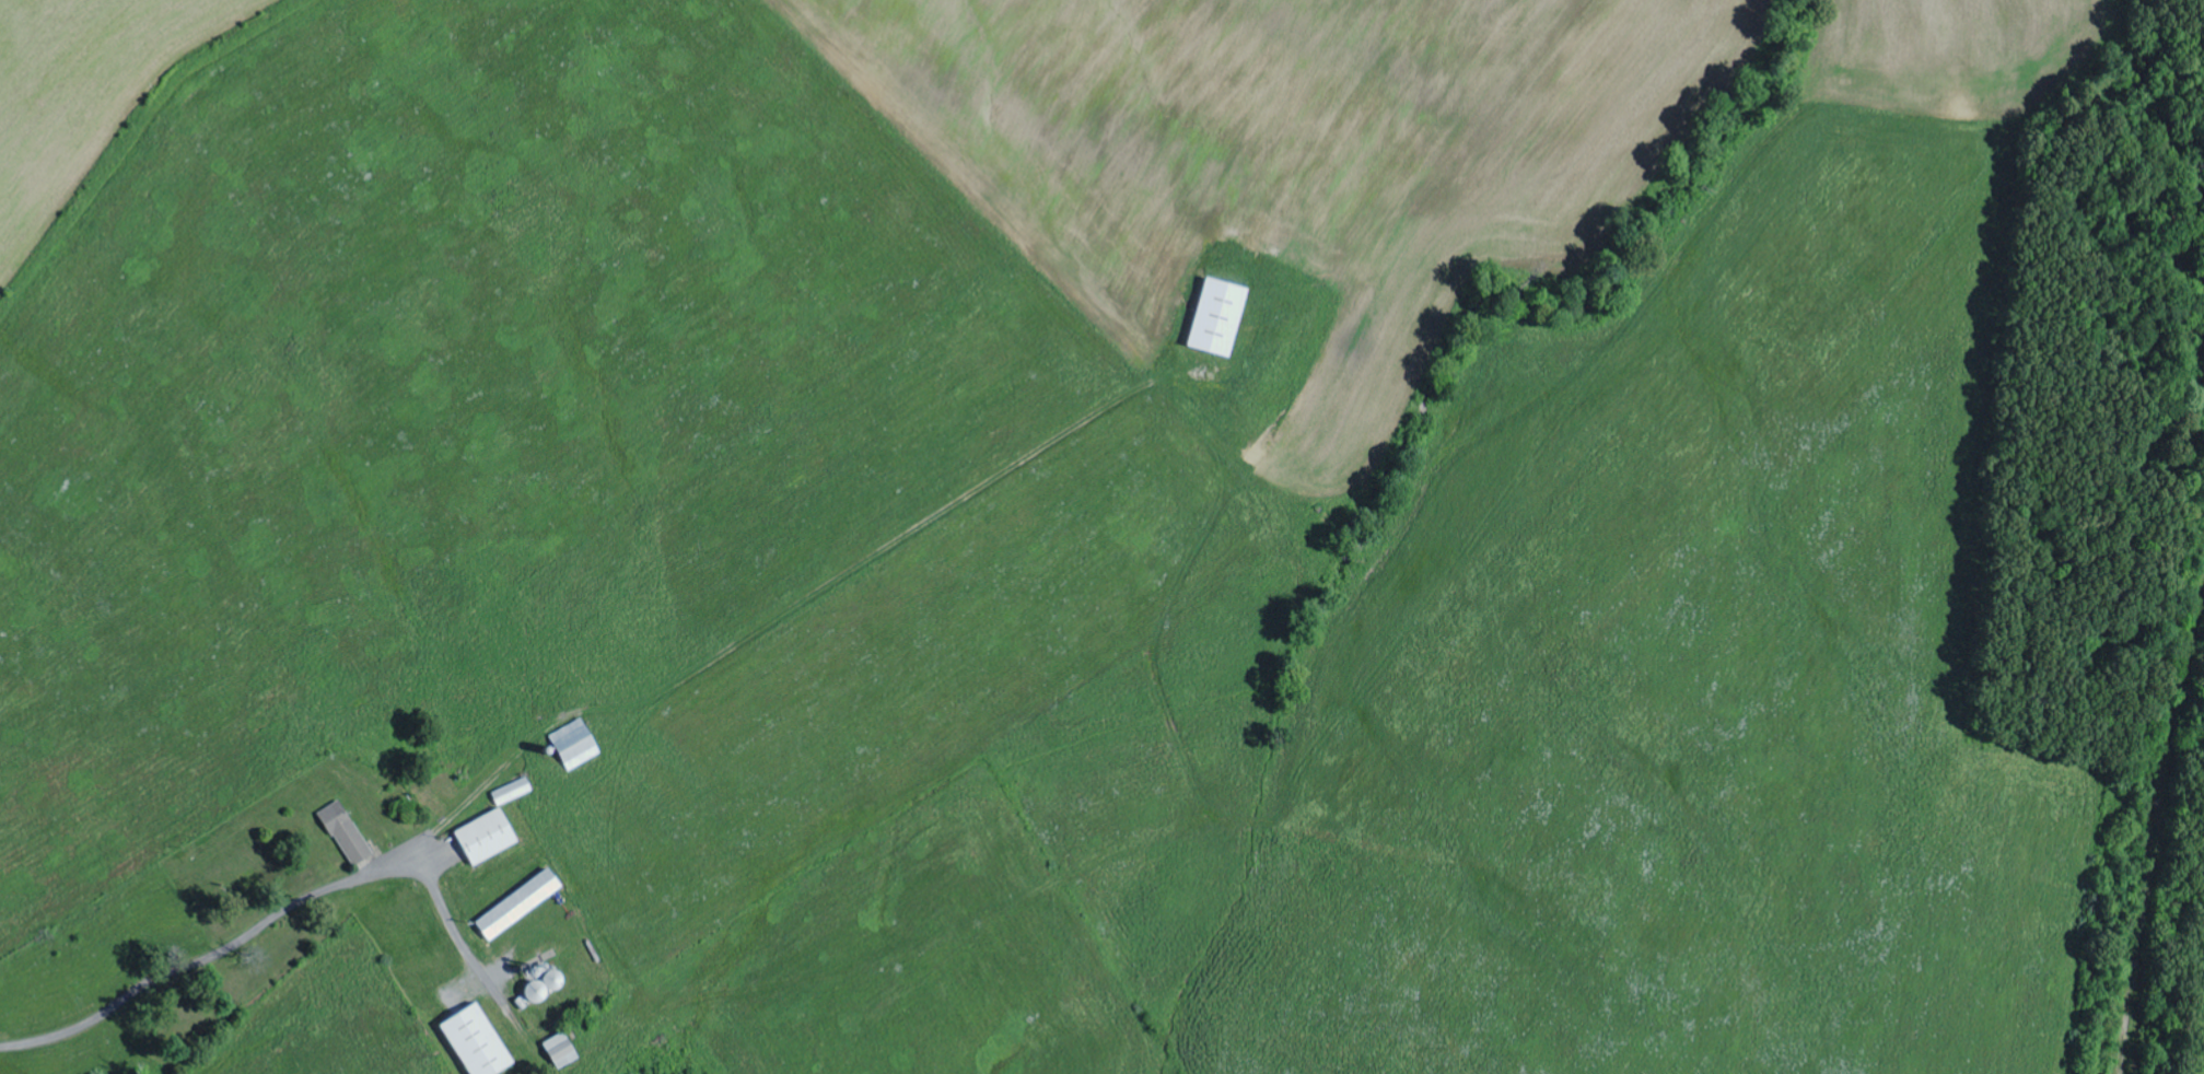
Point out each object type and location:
building: (1218, 319)
building: (575, 745)
building: (512, 792)
building: (347, 832)
building: (487, 837)
building: (520, 904)
building: (477, 1042)

